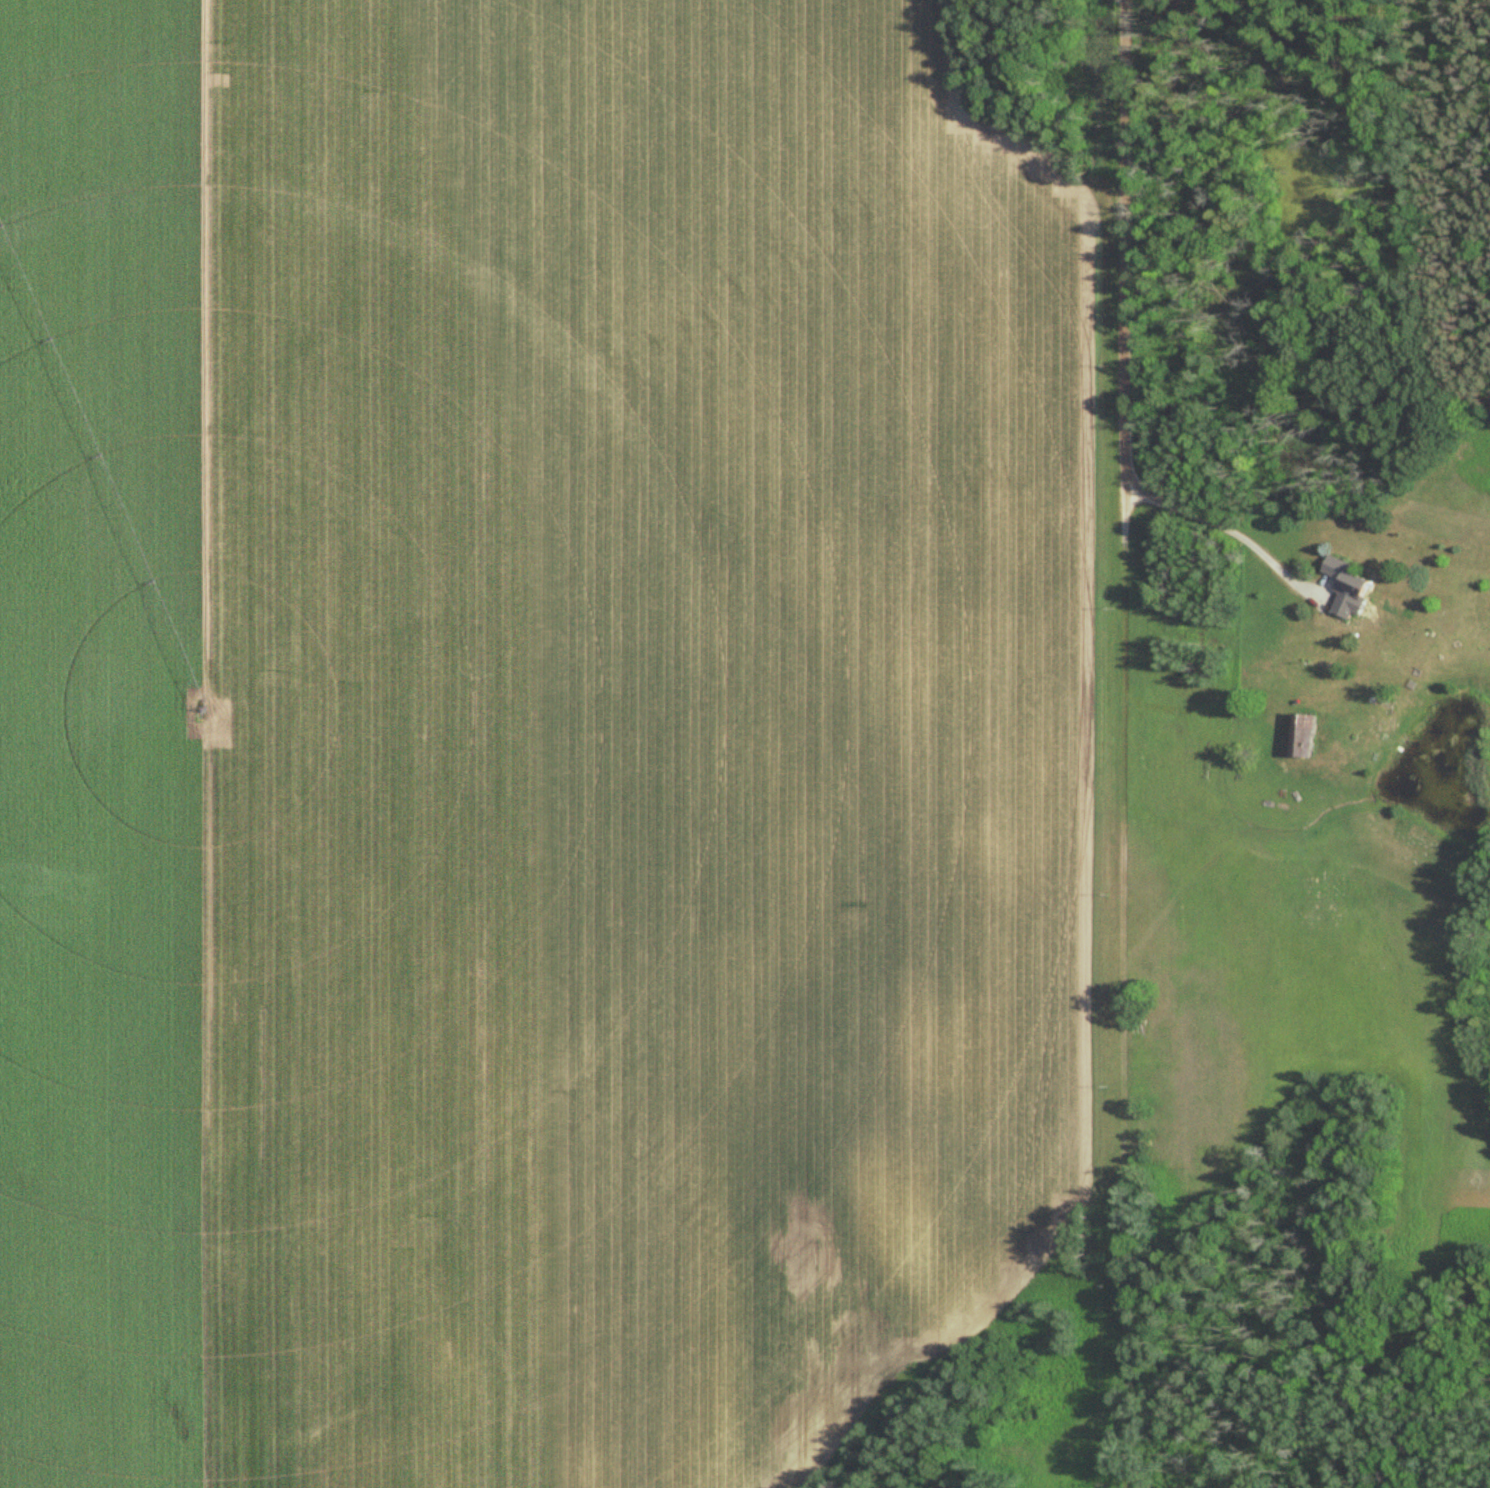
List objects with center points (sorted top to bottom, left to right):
road: (1222, 530)
building: (1341, 587)
building: (1297, 736)
road: (1103, 743)

